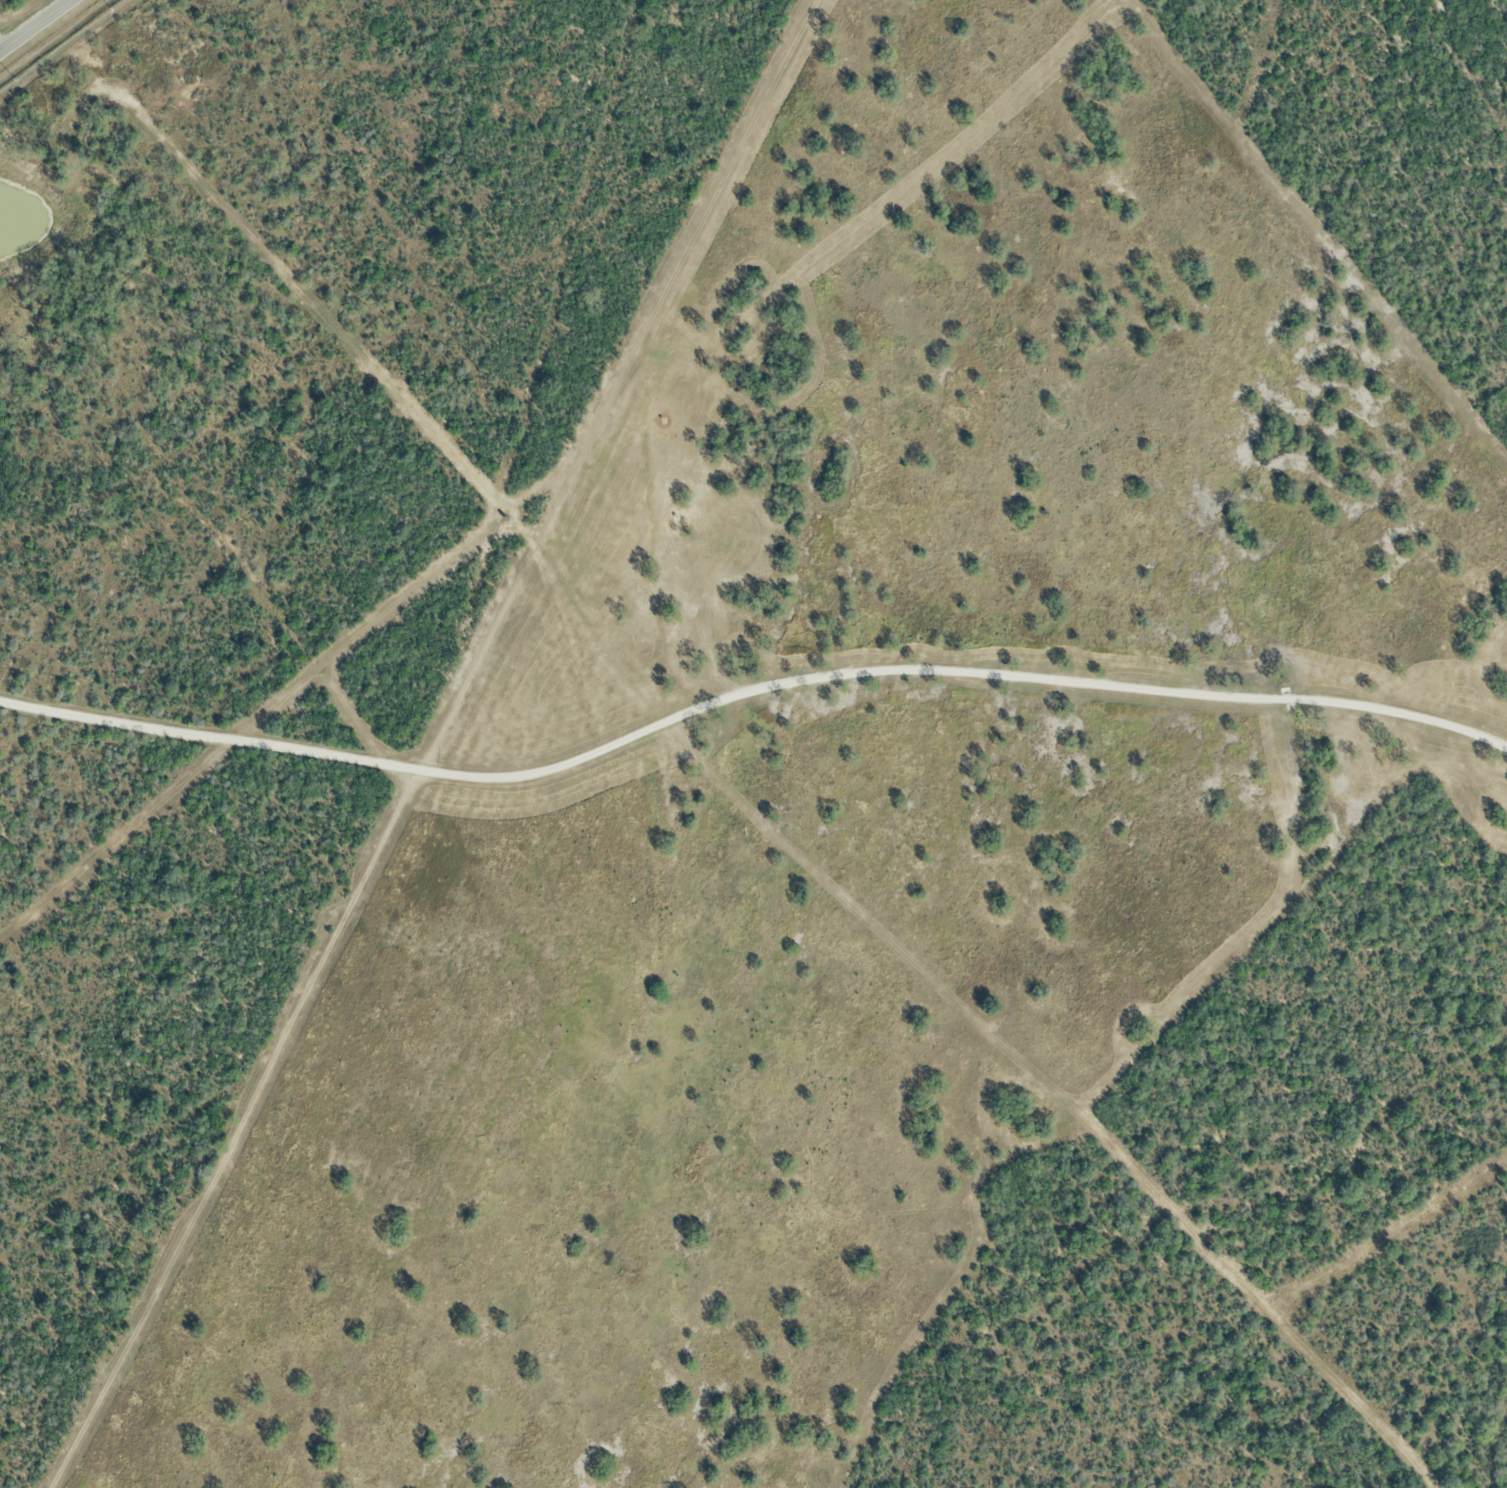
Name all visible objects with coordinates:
road: (36, 26)
road: (1, 50)
road: (745, 687)

